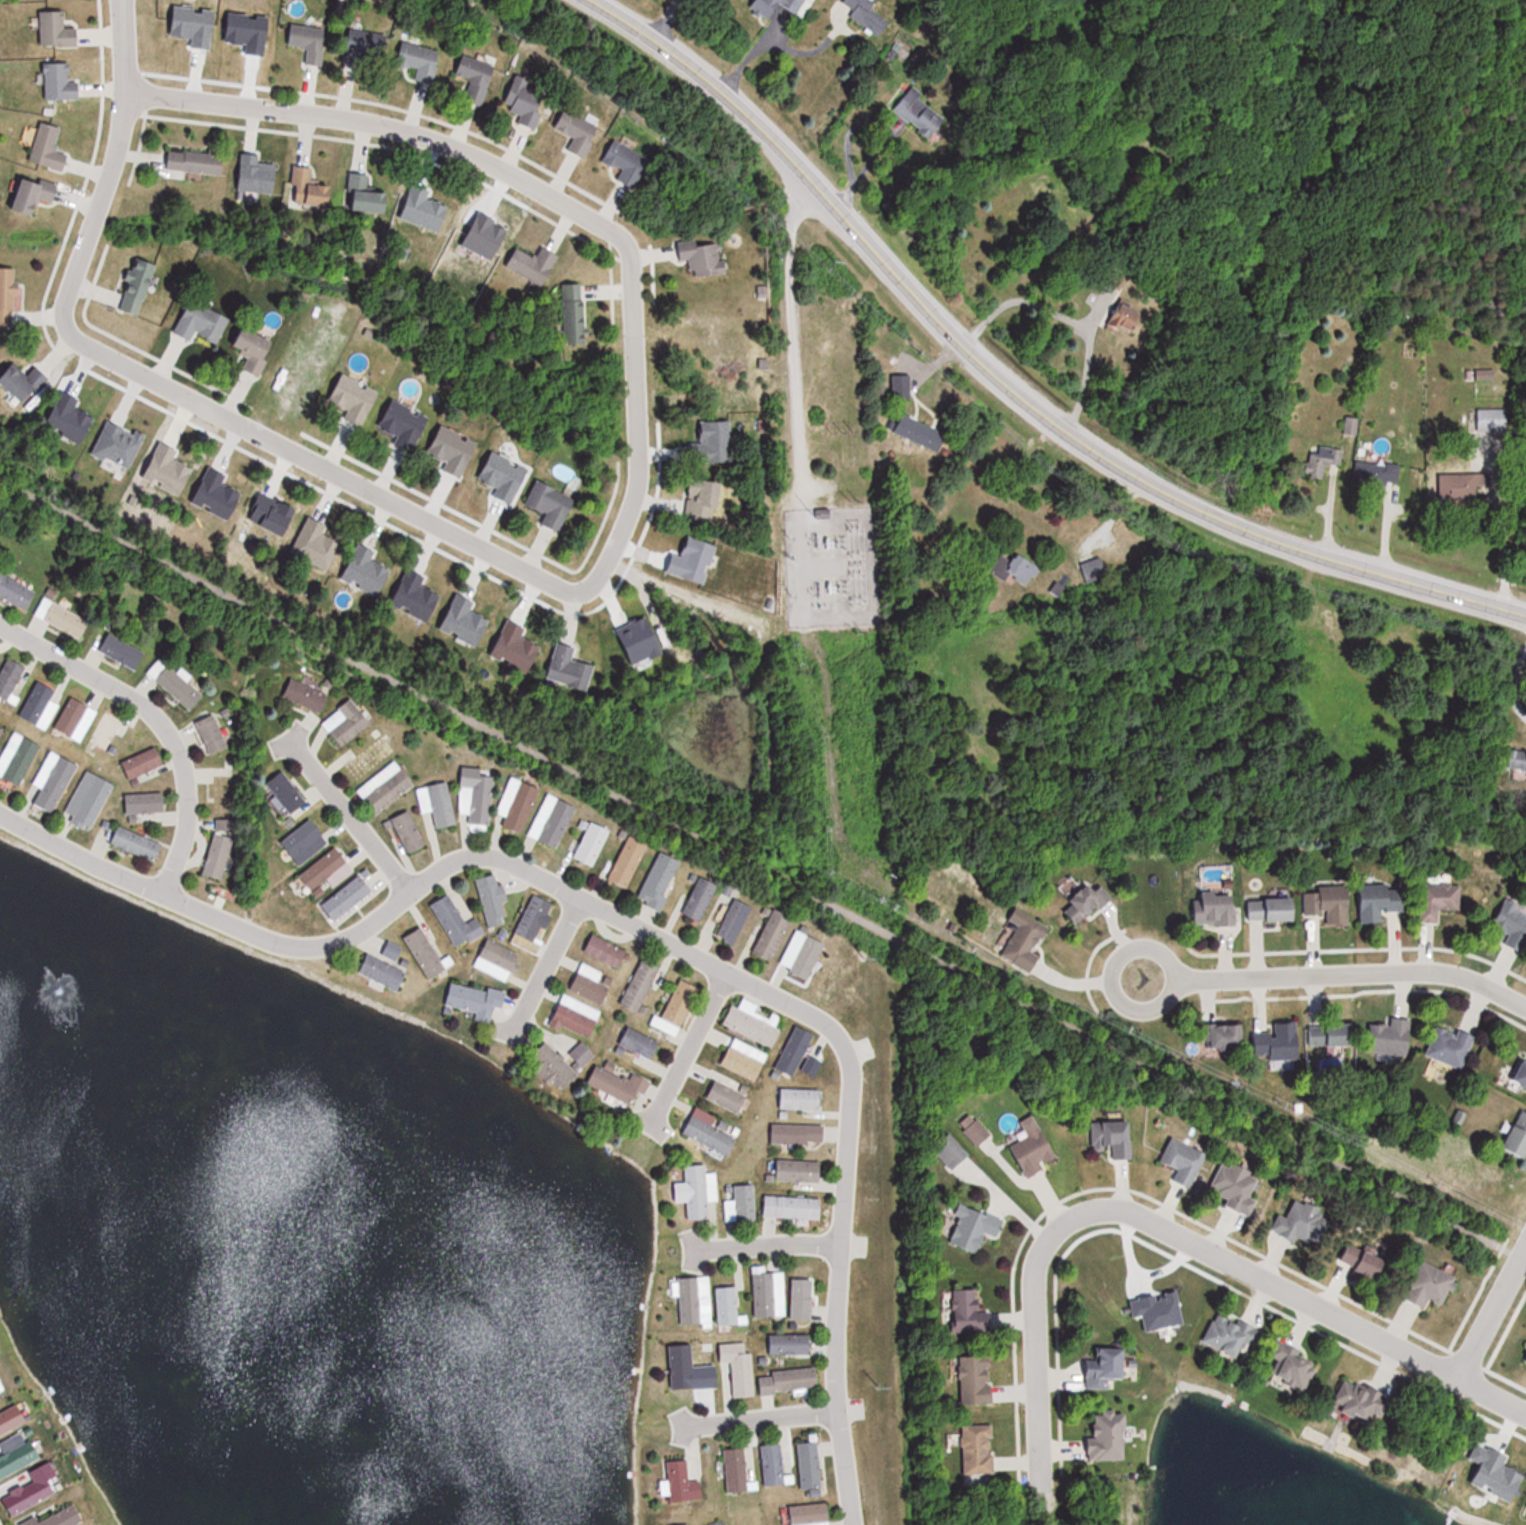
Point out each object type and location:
building: (777, 8)
building: (870, 14)
building: (57, 30)
road: (768, 38)
building: (309, 42)
road: (123, 47)
building: (365, 47)
building: (417, 61)
building: (475, 77)
building: (60, 82)
building: (526, 103)
building: (923, 123)
building: (578, 132)
building: (49, 147)
building: (195, 162)
building: (625, 162)
building: (257, 175)
building: (308, 189)
building: (35, 194)
building: (365, 195)
power tower: (837, 252)
building: (703, 257)
building: (533, 264)
building: (136, 286)
building: (9, 295)
road: (1069, 315)
building: (1123, 318)
building: (202, 322)
road: (791, 341)
building: (254, 348)
building: (1482, 373)
building: (19, 383)
building: (901, 387)
road: (1004, 389)
building: (1488, 420)
power tower: (837, 426)
building: (920, 433)
building: (1322, 462)
building: (1377, 473)
building: (1460, 487)
building: (553, 507)
road: (1502, 543)
road: (802, 558)
power substation: (827, 561)
road: (604, 564)
building: (1020, 565)
building: (16, 592)
building: (63, 617)
building: (124, 652)
building: (570, 668)
building: (10, 678)
road: (1511, 682)
building: (176, 685)
building: (308, 694)
building: (39, 705)
building: (76, 719)
power tower: (862, 719)
road: (158, 720)
building: (347, 722)
building: (1, 731)
building: (108, 731)
building: (212, 734)
building: (18, 758)
building: (371, 758)
building: (144, 764)
building: (1517, 766)
building: (54, 781)
building: (386, 787)
building: (287, 793)
building: (476, 794)
building: (90, 800)
building: (145, 803)
building: (438, 804)
building: (518, 804)
road: (348, 818)
building: (552, 821)
building: (409, 833)
building: (304, 842)
building: (591, 843)
building: (137, 844)
building: (221, 850)
building: (628, 861)
road: (763, 869)
building: (324, 871)
building: (660, 880)
building: (348, 898)
building: (700, 898)
building: (1382, 901)
building: (1436, 901)
building: (1089, 902)
building: (494, 904)
building: (1329, 904)
building: (1216, 909)
building: (1273, 909)
building: (535, 917)
building: (734, 921)
building: (456, 922)
building: (1513, 923)
road: (642, 928)
building: (773, 934)
building: (1025, 940)
building: (392, 950)
building: (606, 950)
building: (425, 953)
power tower: (862, 953)
building: (499, 960)
road: (548, 964)
building: (383, 972)
road: (1353, 973)
road: (1110, 974)
building: (642, 982)
building: (590, 987)
building: (475, 999)
building: (678, 1008)
building: (576, 1015)
building: (752, 1025)
building: (1332, 1033)
building: (1225, 1034)
building: (1391, 1035)
building: (1278, 1040)
building: (640, 1042)
building: (1451, 1045)
road: (690, 1048)
building: (794, 1051)
building: (583, 1053)
building: (745, 1059)
building: (554, 1068)
building: (1520, 1072)
building: (619, 1084)
building: (727, 1097)
building: (800, 1098)
building: (974, 1129)
building: (798, 1134)
building: (1516, 1135)
building: (710, 1136)
building: (1113, 1137)
building: (951, 1150)
building: (1034, 1151)
building: (1184, 1160)
building: (799, 1170)
building: (1236, 1185)
building: (743, 1204)
building: (793, 1207)
building: (1305, 1222)
building: (974, 1227)
road: (765, 1245)
building: (1364, 1259)
building: (1433, 1284)
building: (768, 1292)
road: (1289, 1292)
building: (695, 1301)
building: (727, 1306)
building: (970, 1312)
road: (1492, 1313)
building: (1233, 1335)
building: (790, 1343)
building: (1108, 1367)
building: (1292, 1367)
building: (739, 1368)
building: (696, 1370)
road: (1035, 1376)
building: (977, 1379)
building: (789, 1380)
power tower: (876, 1383)
building: (0, 1391)
building: (1360, 1400)
building: (12, 1418)
road: (760, 1419)
building: (1109, 1436)
building: (979, 1449)
building: (19, 1457)
building: (773, 1465)
building: (810, 1465)
building: (736, 1469)
building: (34, 1489)
building: (810, 1514)
building: (62, 1516)
building: (690, 1524)

